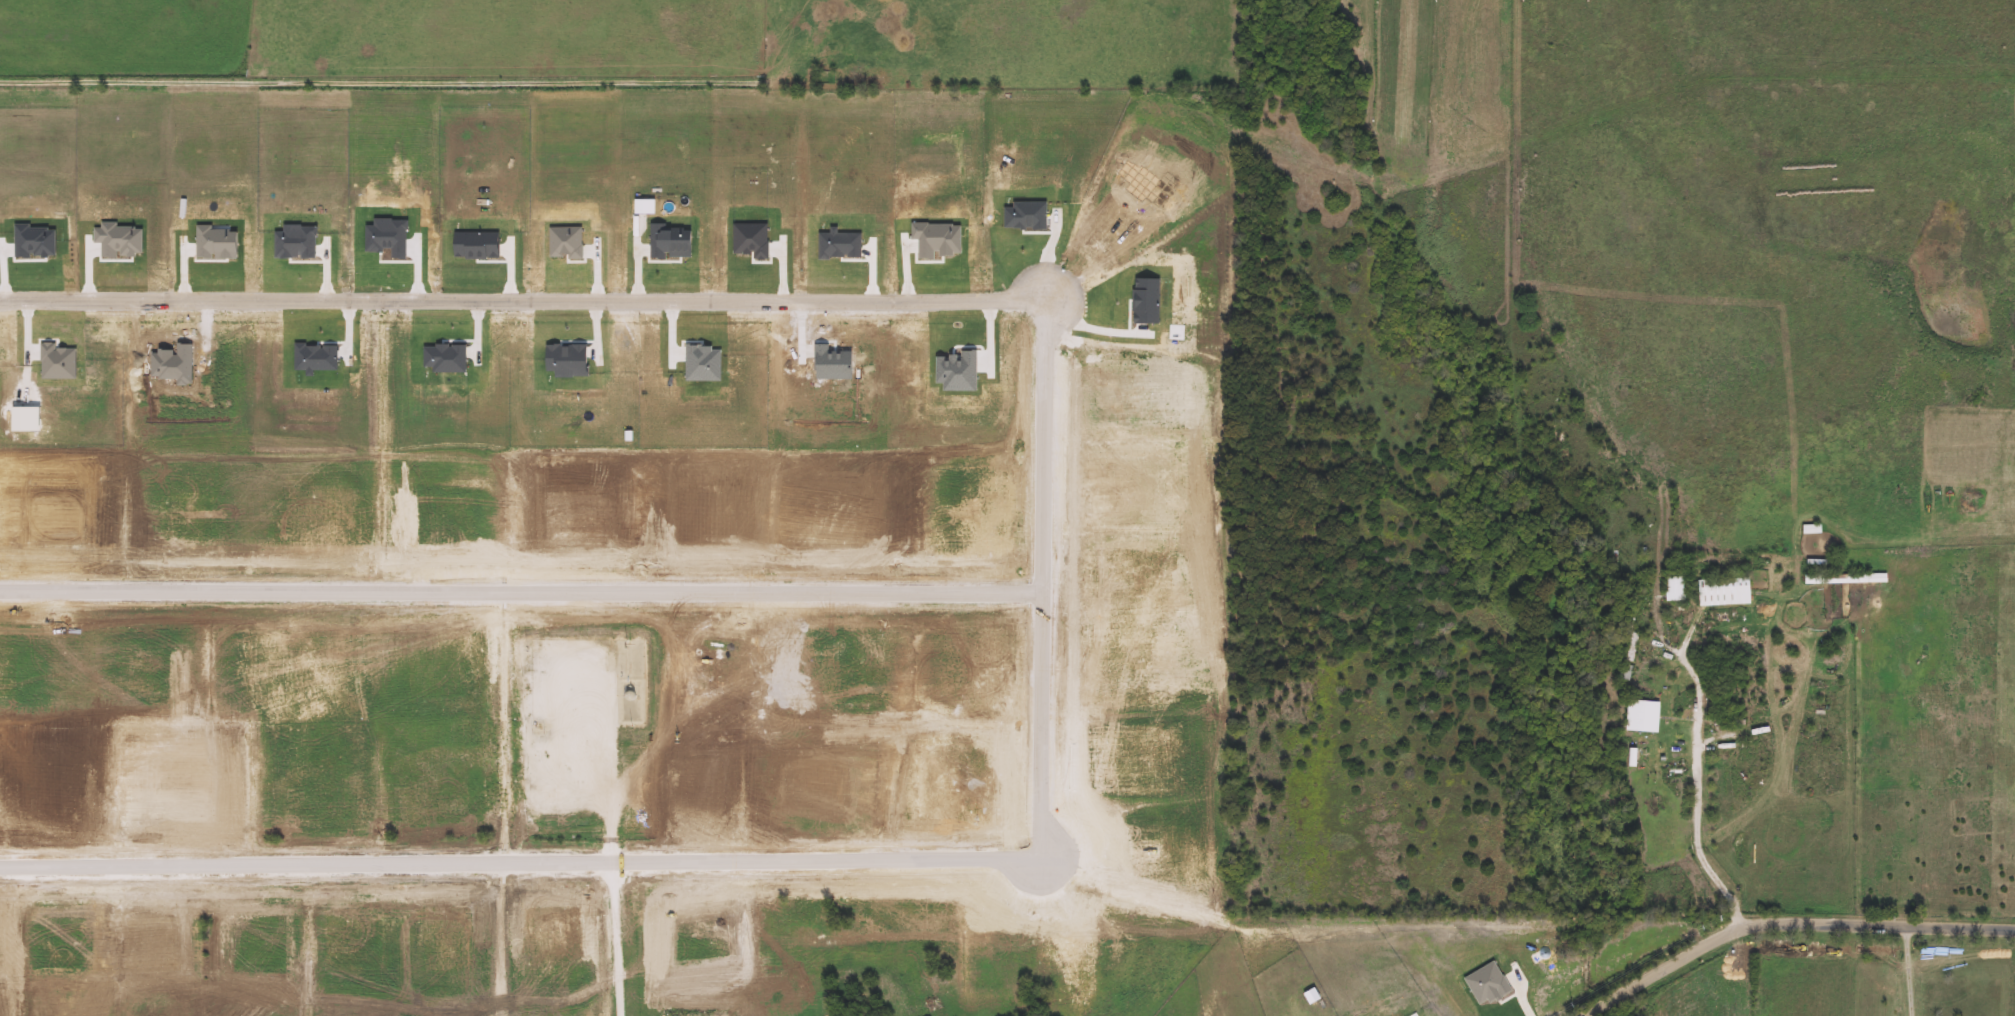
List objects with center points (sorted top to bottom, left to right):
airport runway: (1409, 65)
road: (1101, 332)
airport: (1383, 461)
road: (1041, 576)
building: (1846, 579)
road: (520, 592)
building: (1725, 592)
building: (1629, 658)
building: (1644, 716)
road: (1701, 780)
road: (1793, 924)
road: (1912, 972)
building: (844, 990)

